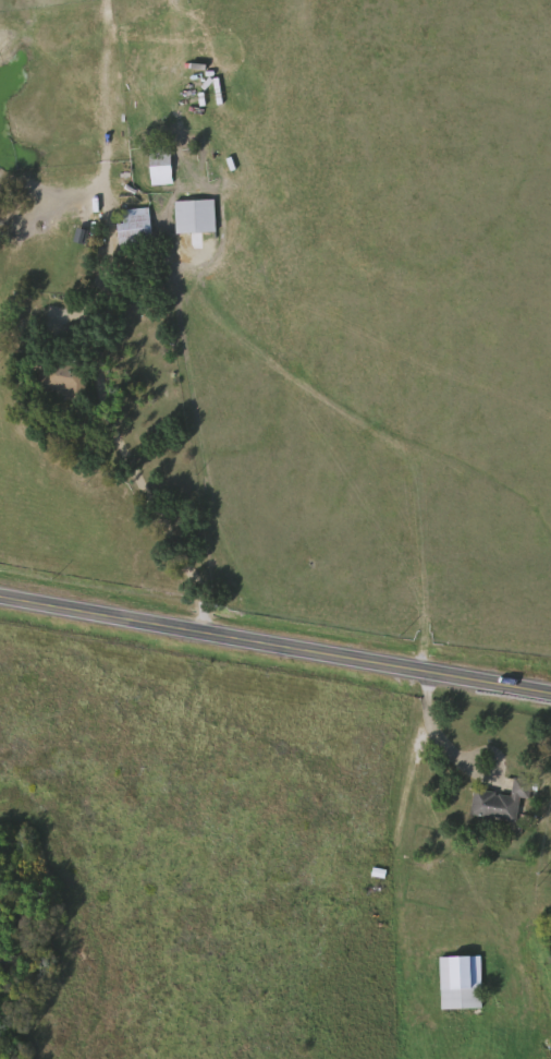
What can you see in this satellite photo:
building: (161, 161)
building: (196, 214)
building: (135, 222)
building: (63, 372)
road: (128, 452)
road: (274, 638)
road: (440, 735)
road: (500, 750)
building: (501, 799)
road: (389, 857)
building: (462, 980)

